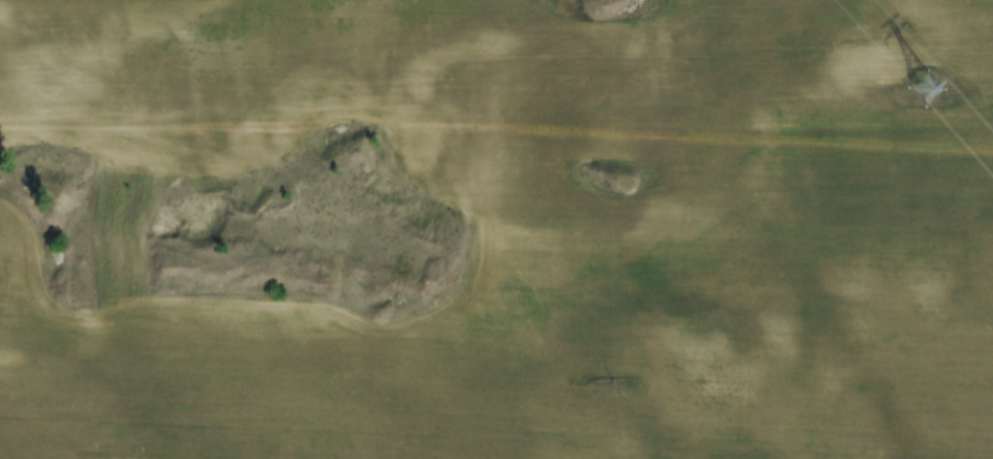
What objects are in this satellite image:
power tower: (928, 90)

